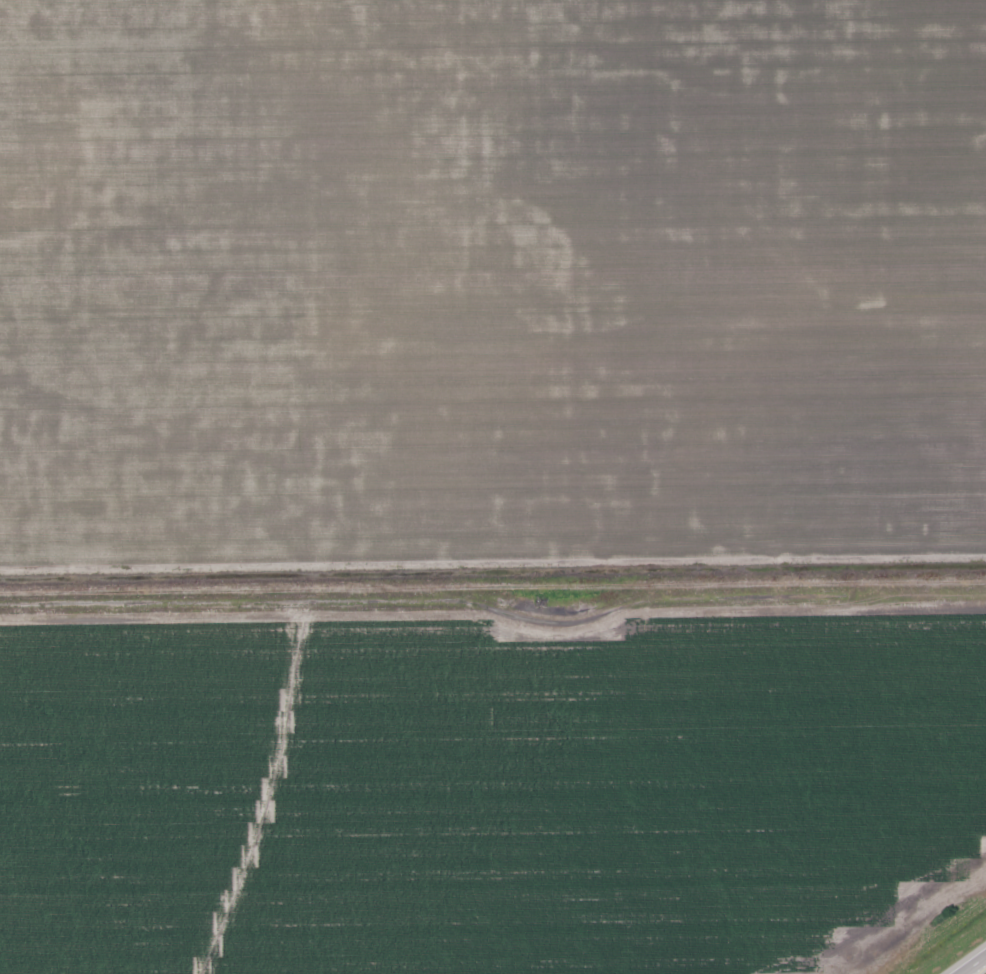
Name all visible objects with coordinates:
road: (976, 967)

